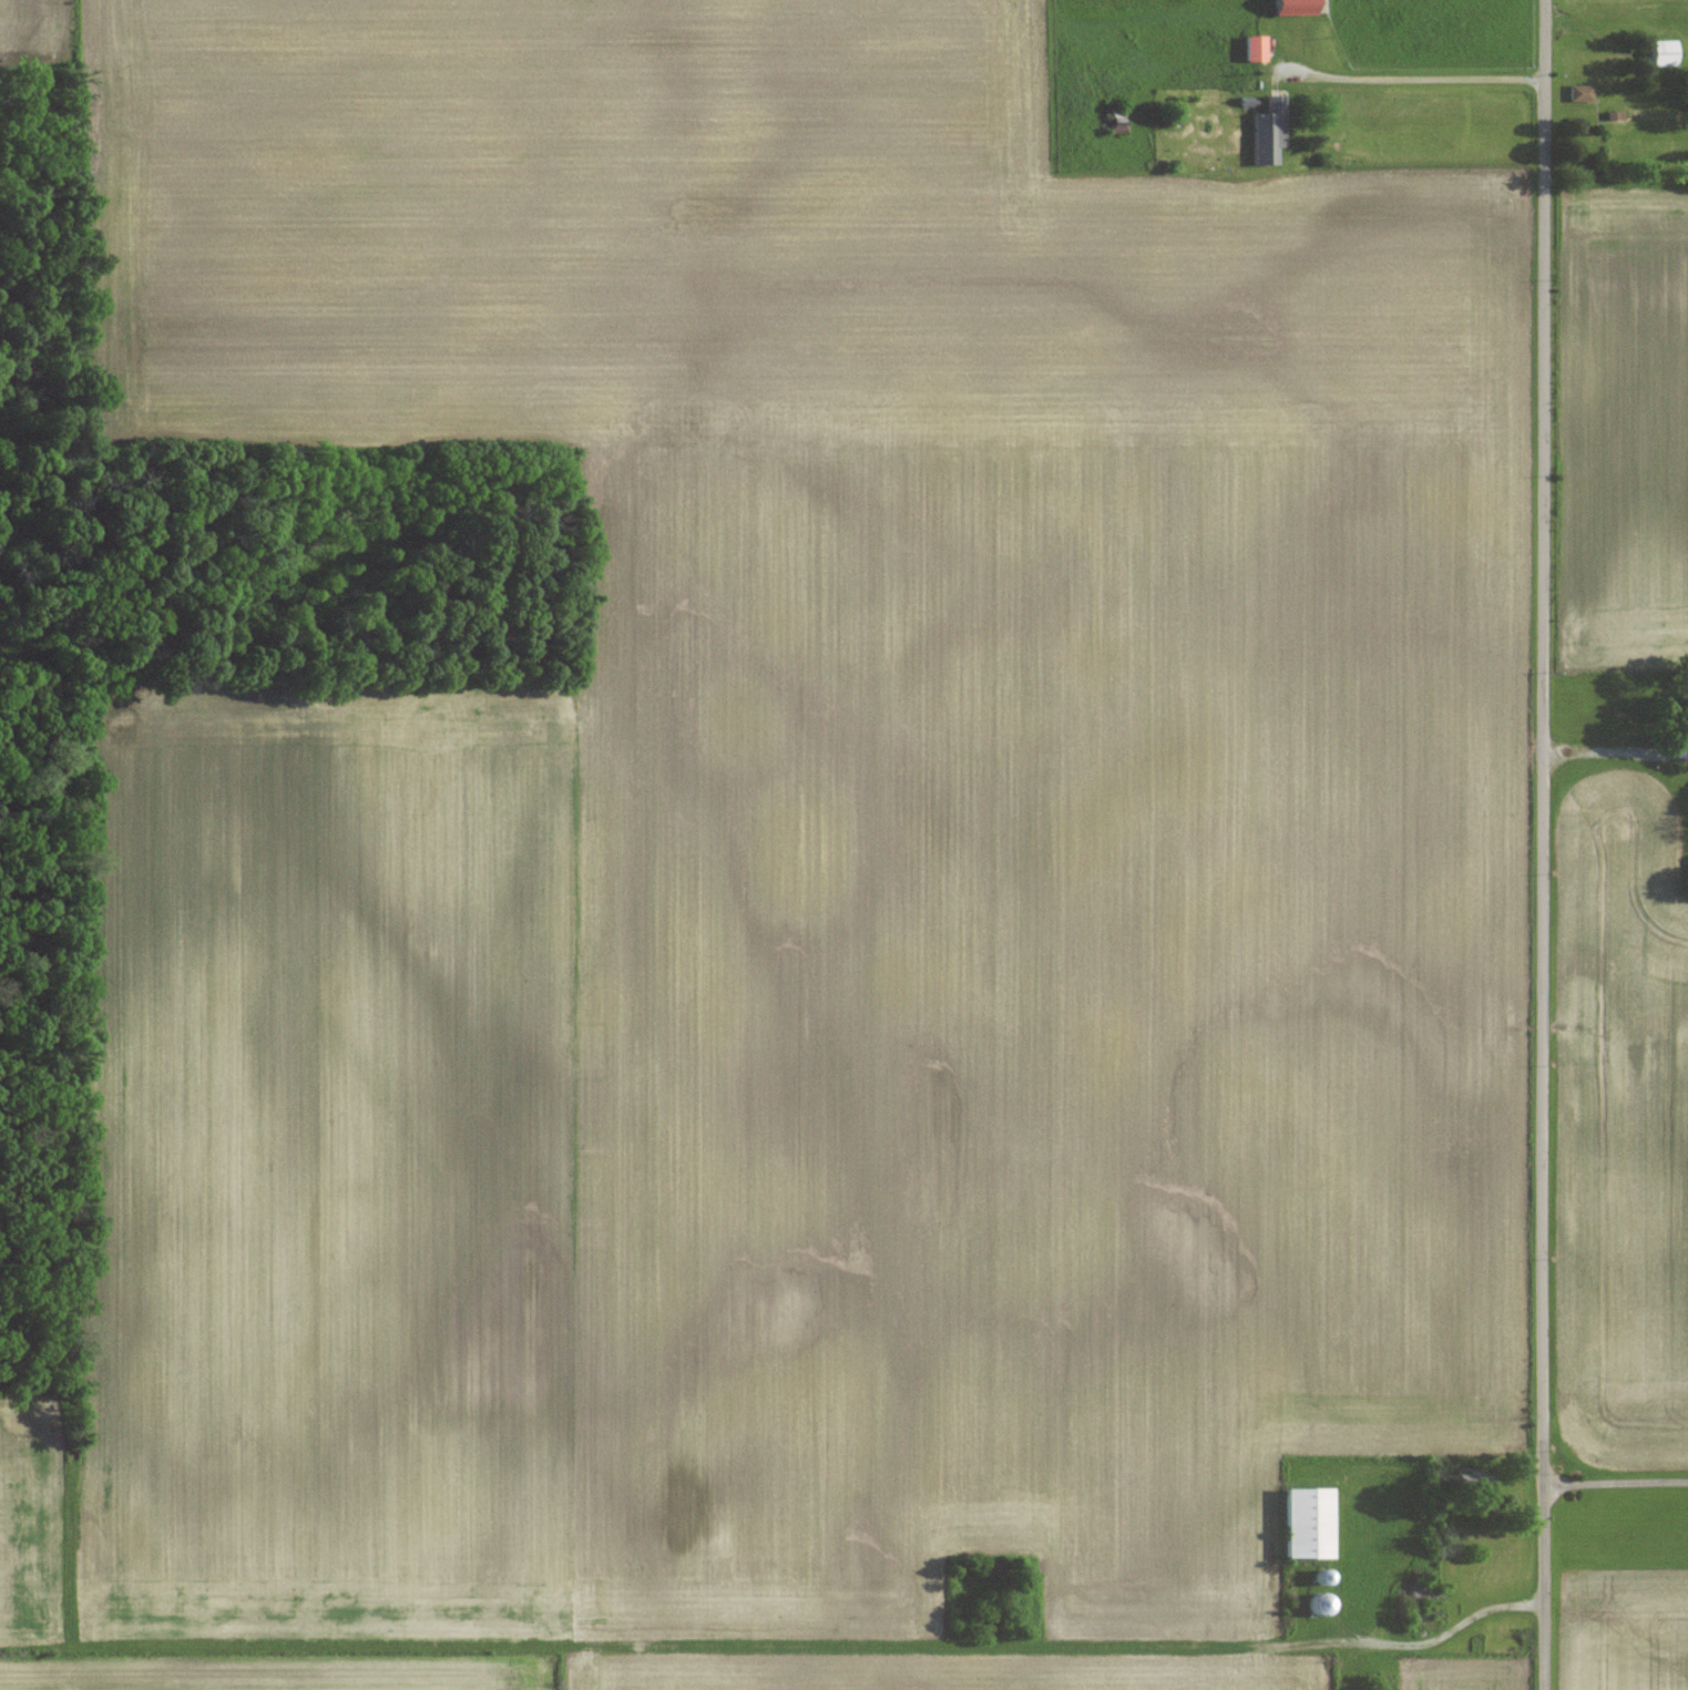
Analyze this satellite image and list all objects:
building: (1293, 8)
building: (1255, 49)
building: (1664, 53)
road: (1414, 80)
building: (1582, 93)
building: (1268, 132)
road: (1605, 751)
road: (1544, 844)
road: (1614, 1483)
building: (1307, 1524)
road: (1425, 1643)

